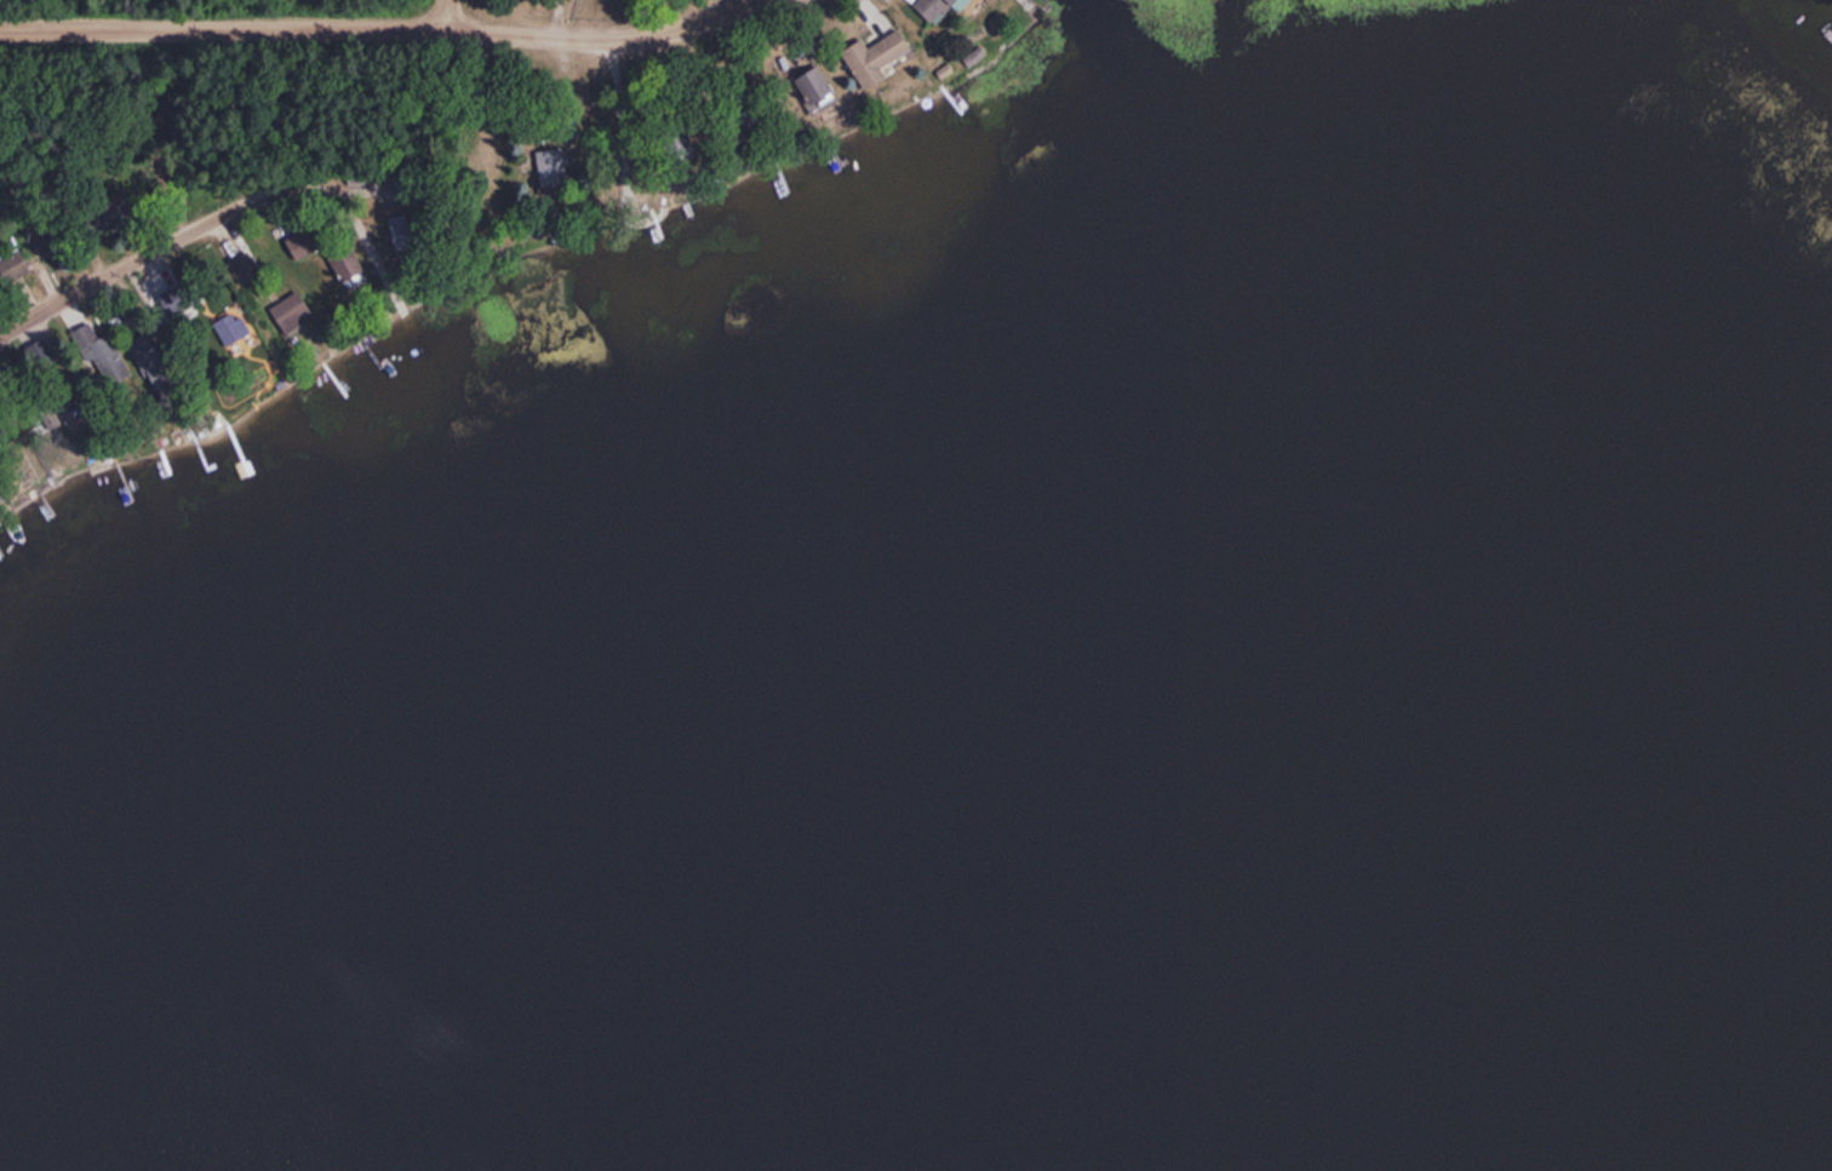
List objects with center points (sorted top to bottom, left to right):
building: (933, 7)
road: (451, 13)
road: (378, 28)
building: (870, 57)
building: (808, 85)
building: (548, 166)
building: (101, 219)
building: (397, 231)
building: (298, 243)
road: (165, 245)
building: (44, 247)
building: (340, 260)
building: (10, 266)
building: (174, 298)
building: (287, 311)
building: (98, 354)
building: (147, 360)

